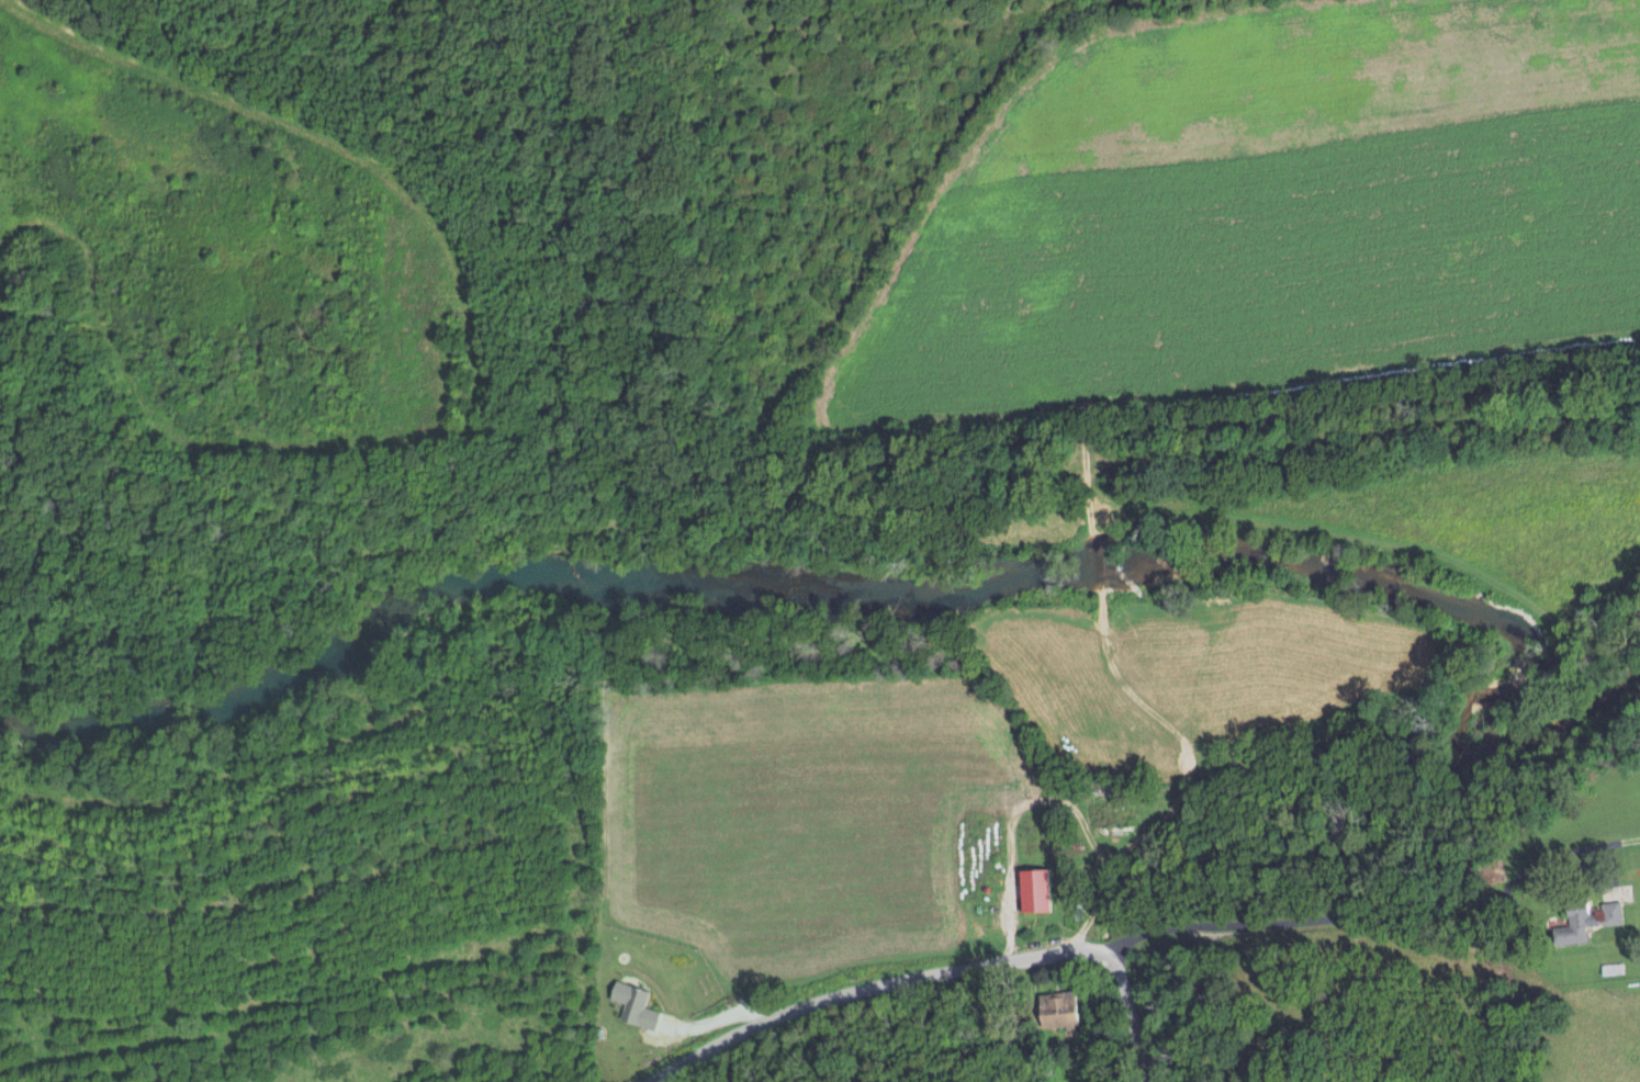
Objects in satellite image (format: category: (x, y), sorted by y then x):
road: (1114, 861)
building: (1030, 890)
building: (1582, 921)
road: (1395, 936)
road: (866, 980)
building: (639, 1005)
road: (1136, 1011)

